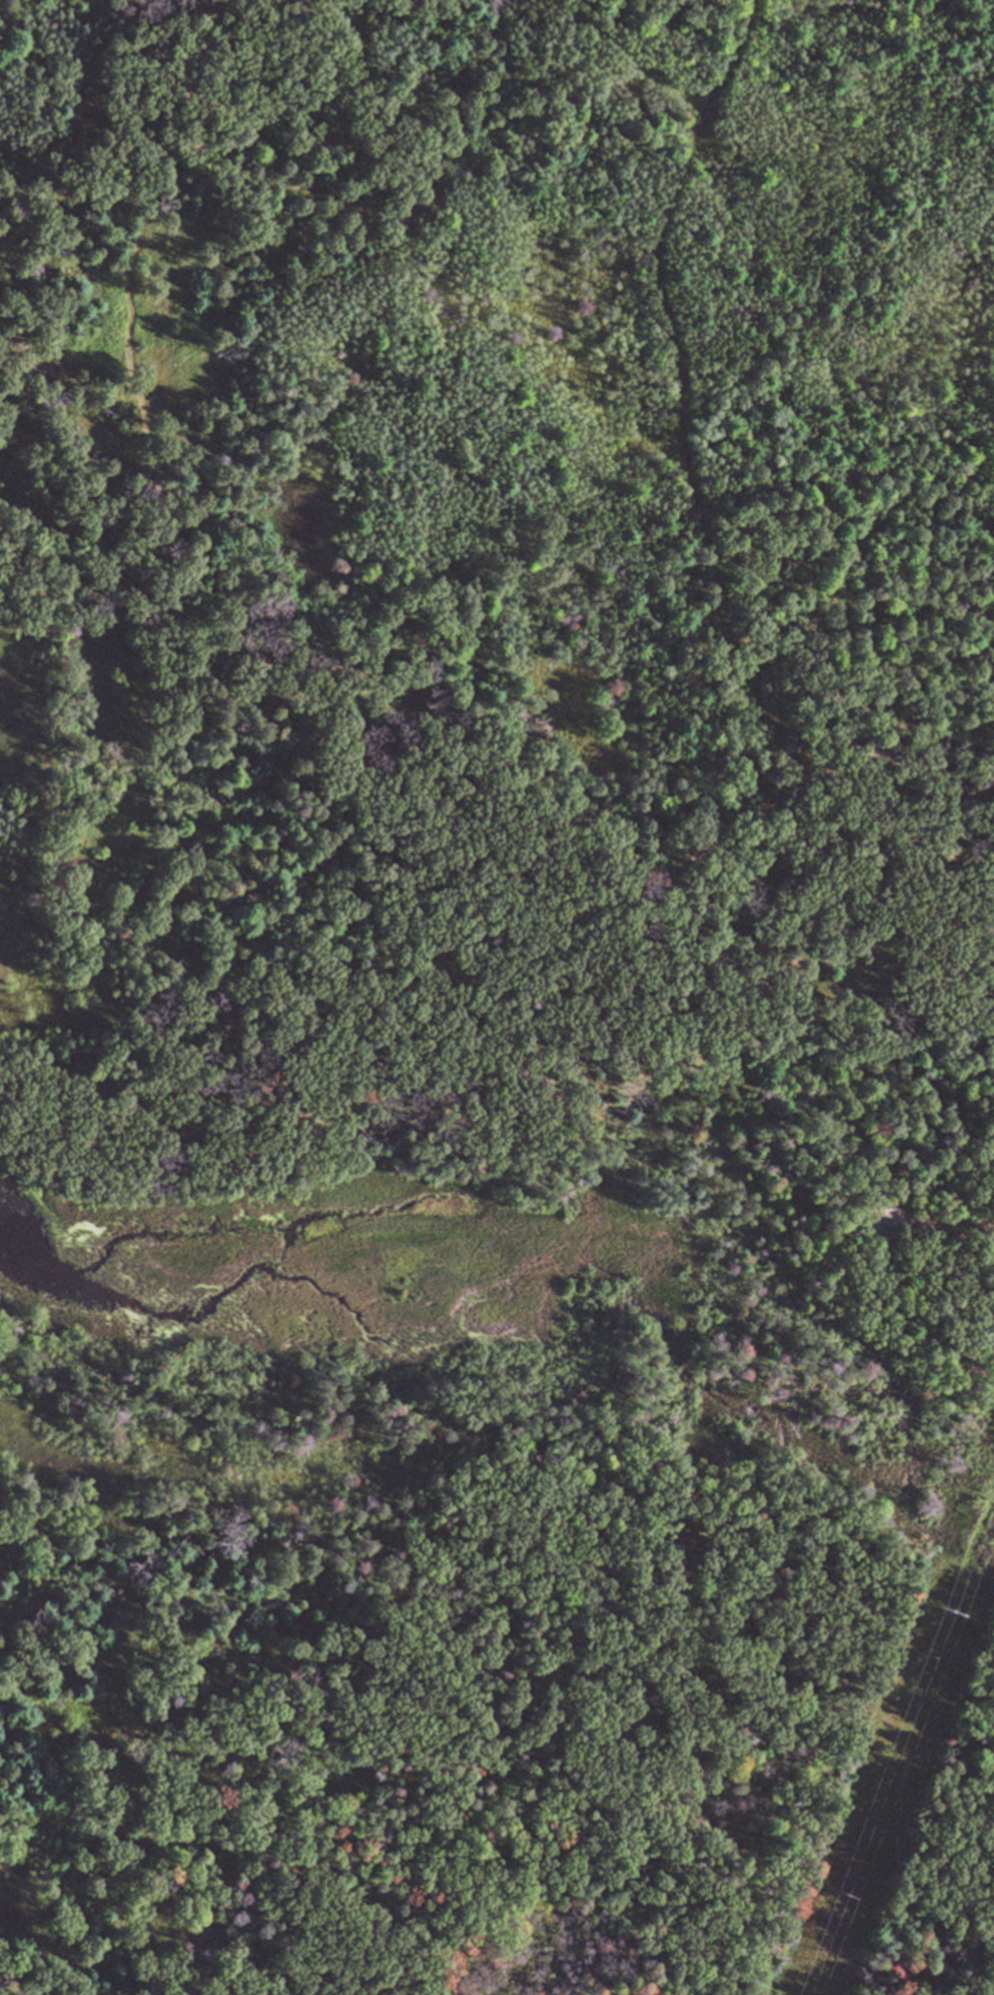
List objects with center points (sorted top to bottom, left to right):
road: (940, 1224)
power tower: (943, 1604)
power tower: (838, 1882)

